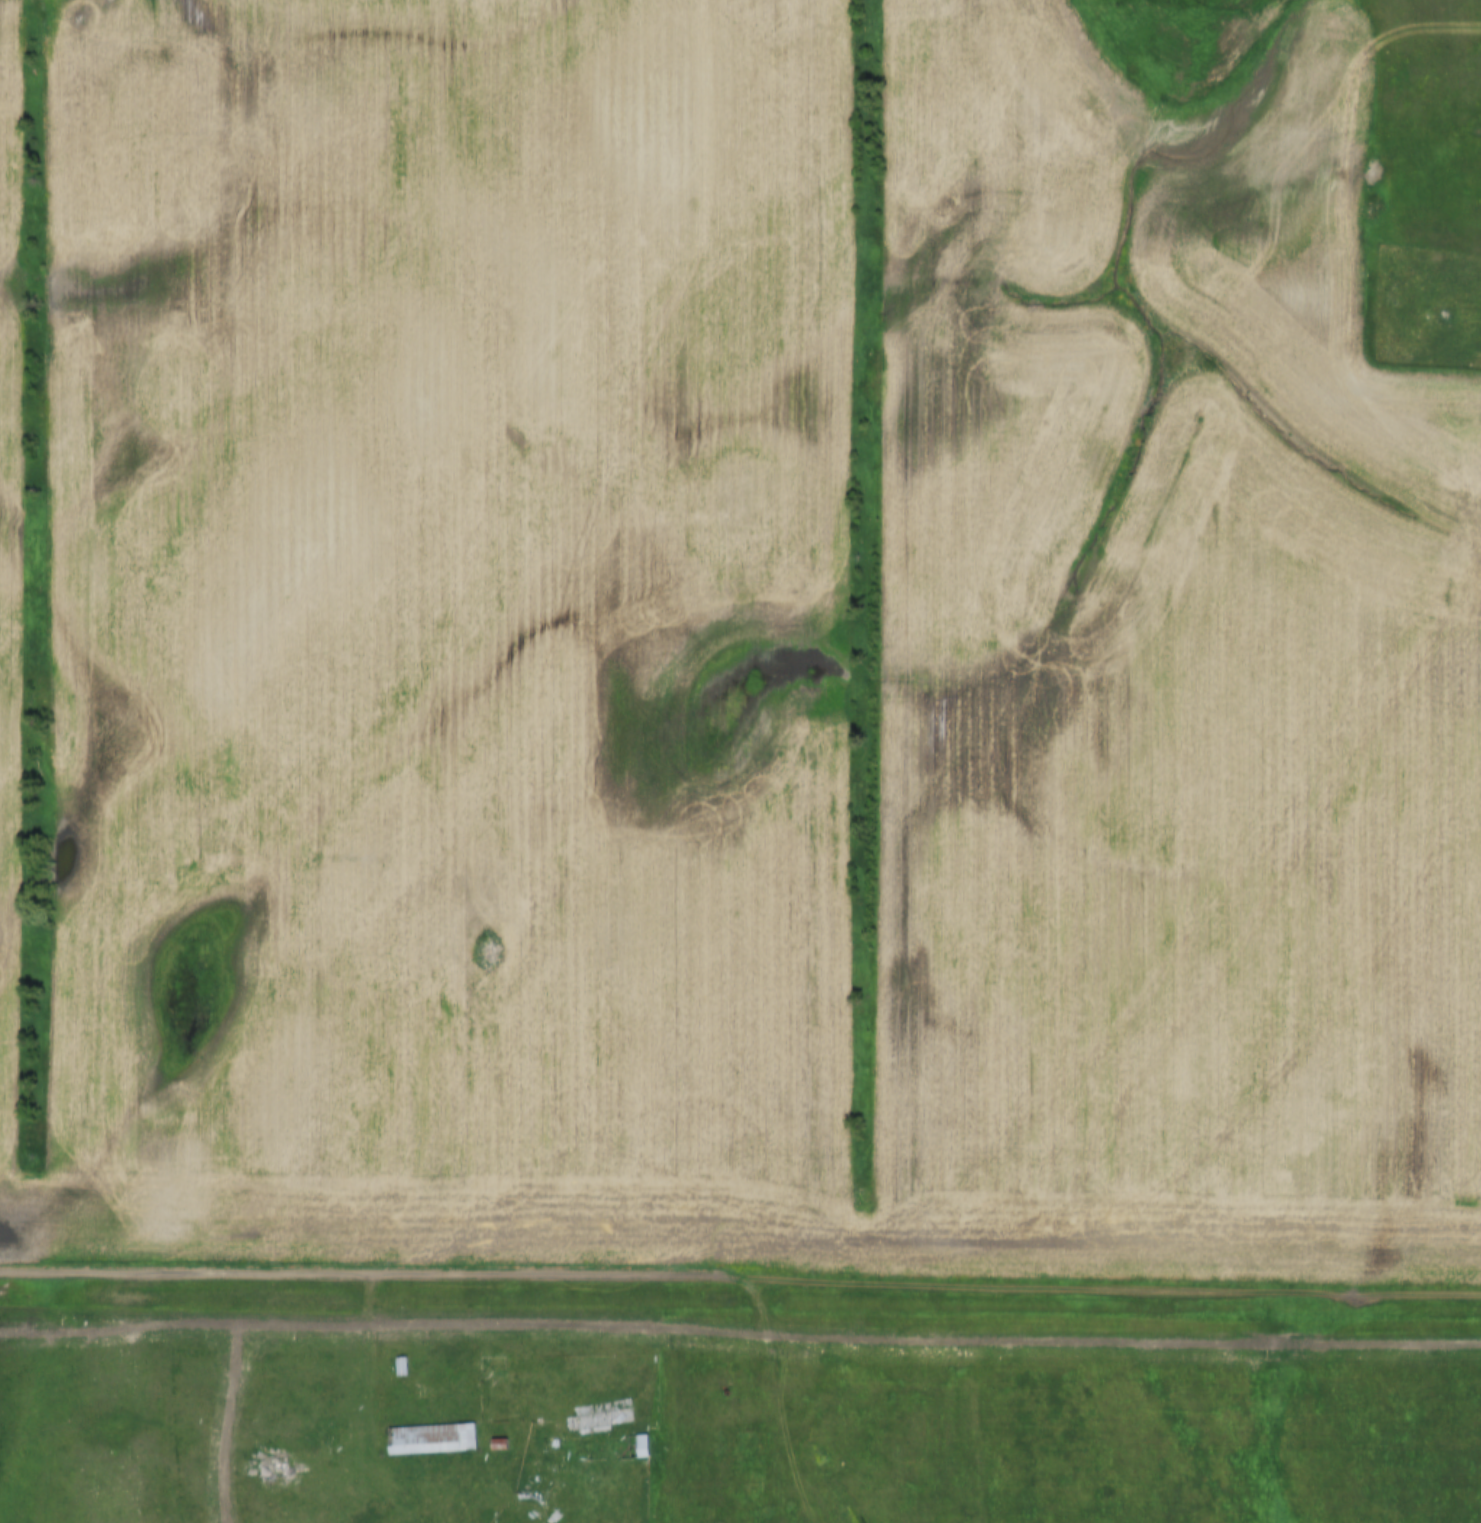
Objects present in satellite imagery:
road: (376, 1278)
road: (1116, 1285)
building: (488, 1363)
building: (398, 1366)
building: (428, 1439)
building: (495, 1444)
building: (600, 1448)
building: (269, 1465)

